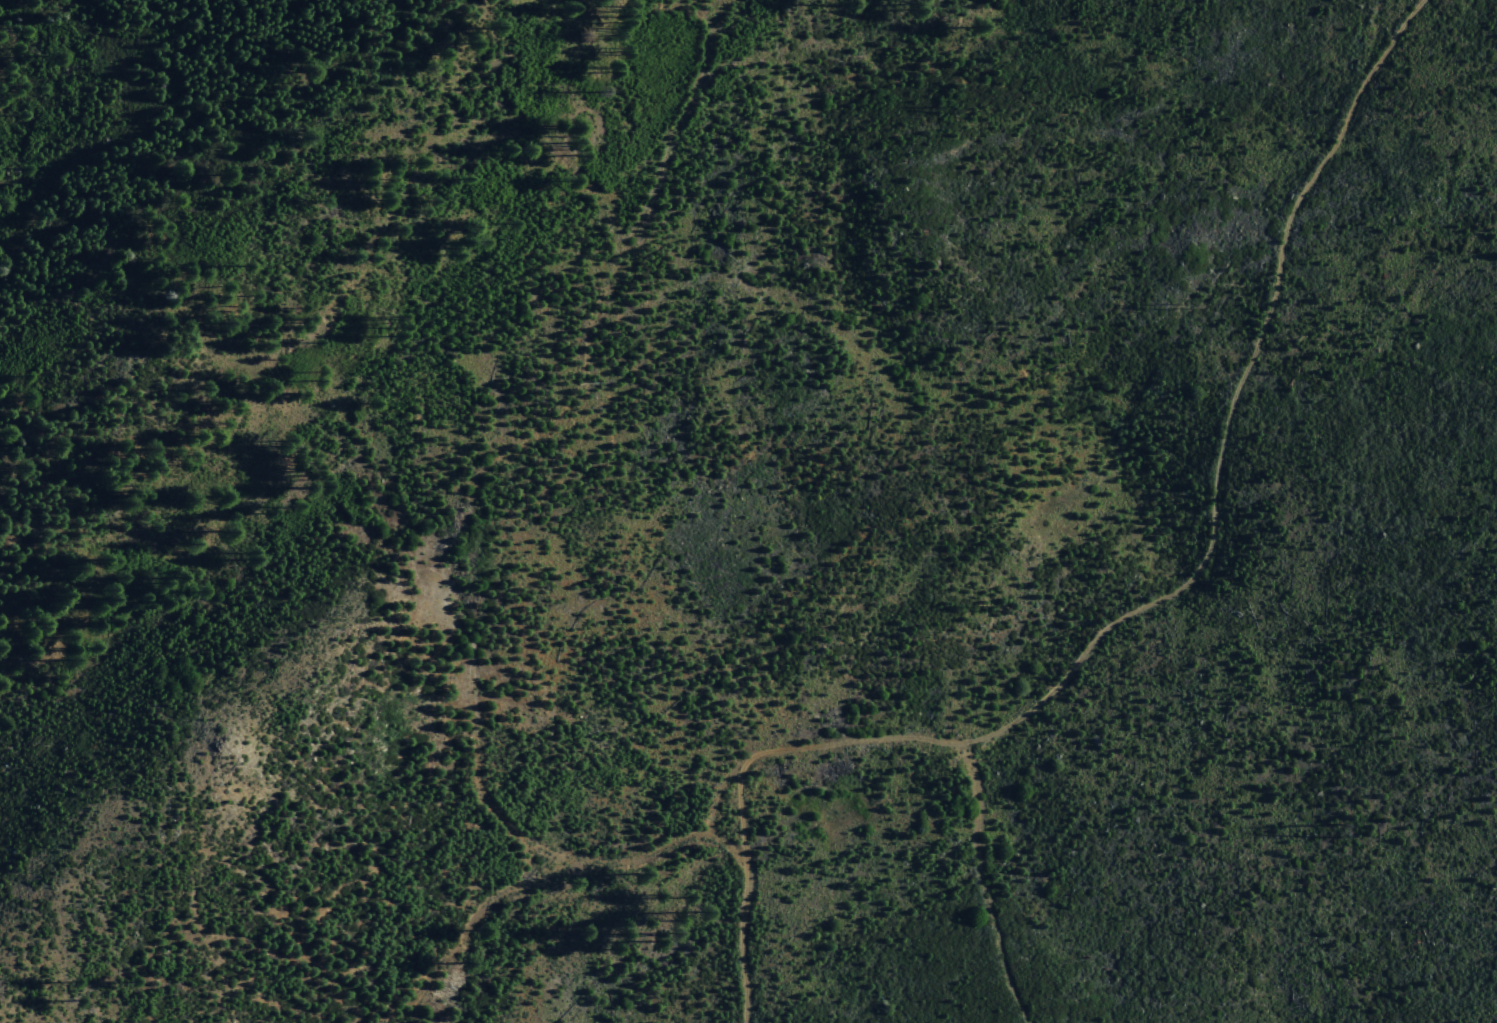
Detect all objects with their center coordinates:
power tower: (1186, 306)
power tower: (988, 604)
road: (1146, 618)

